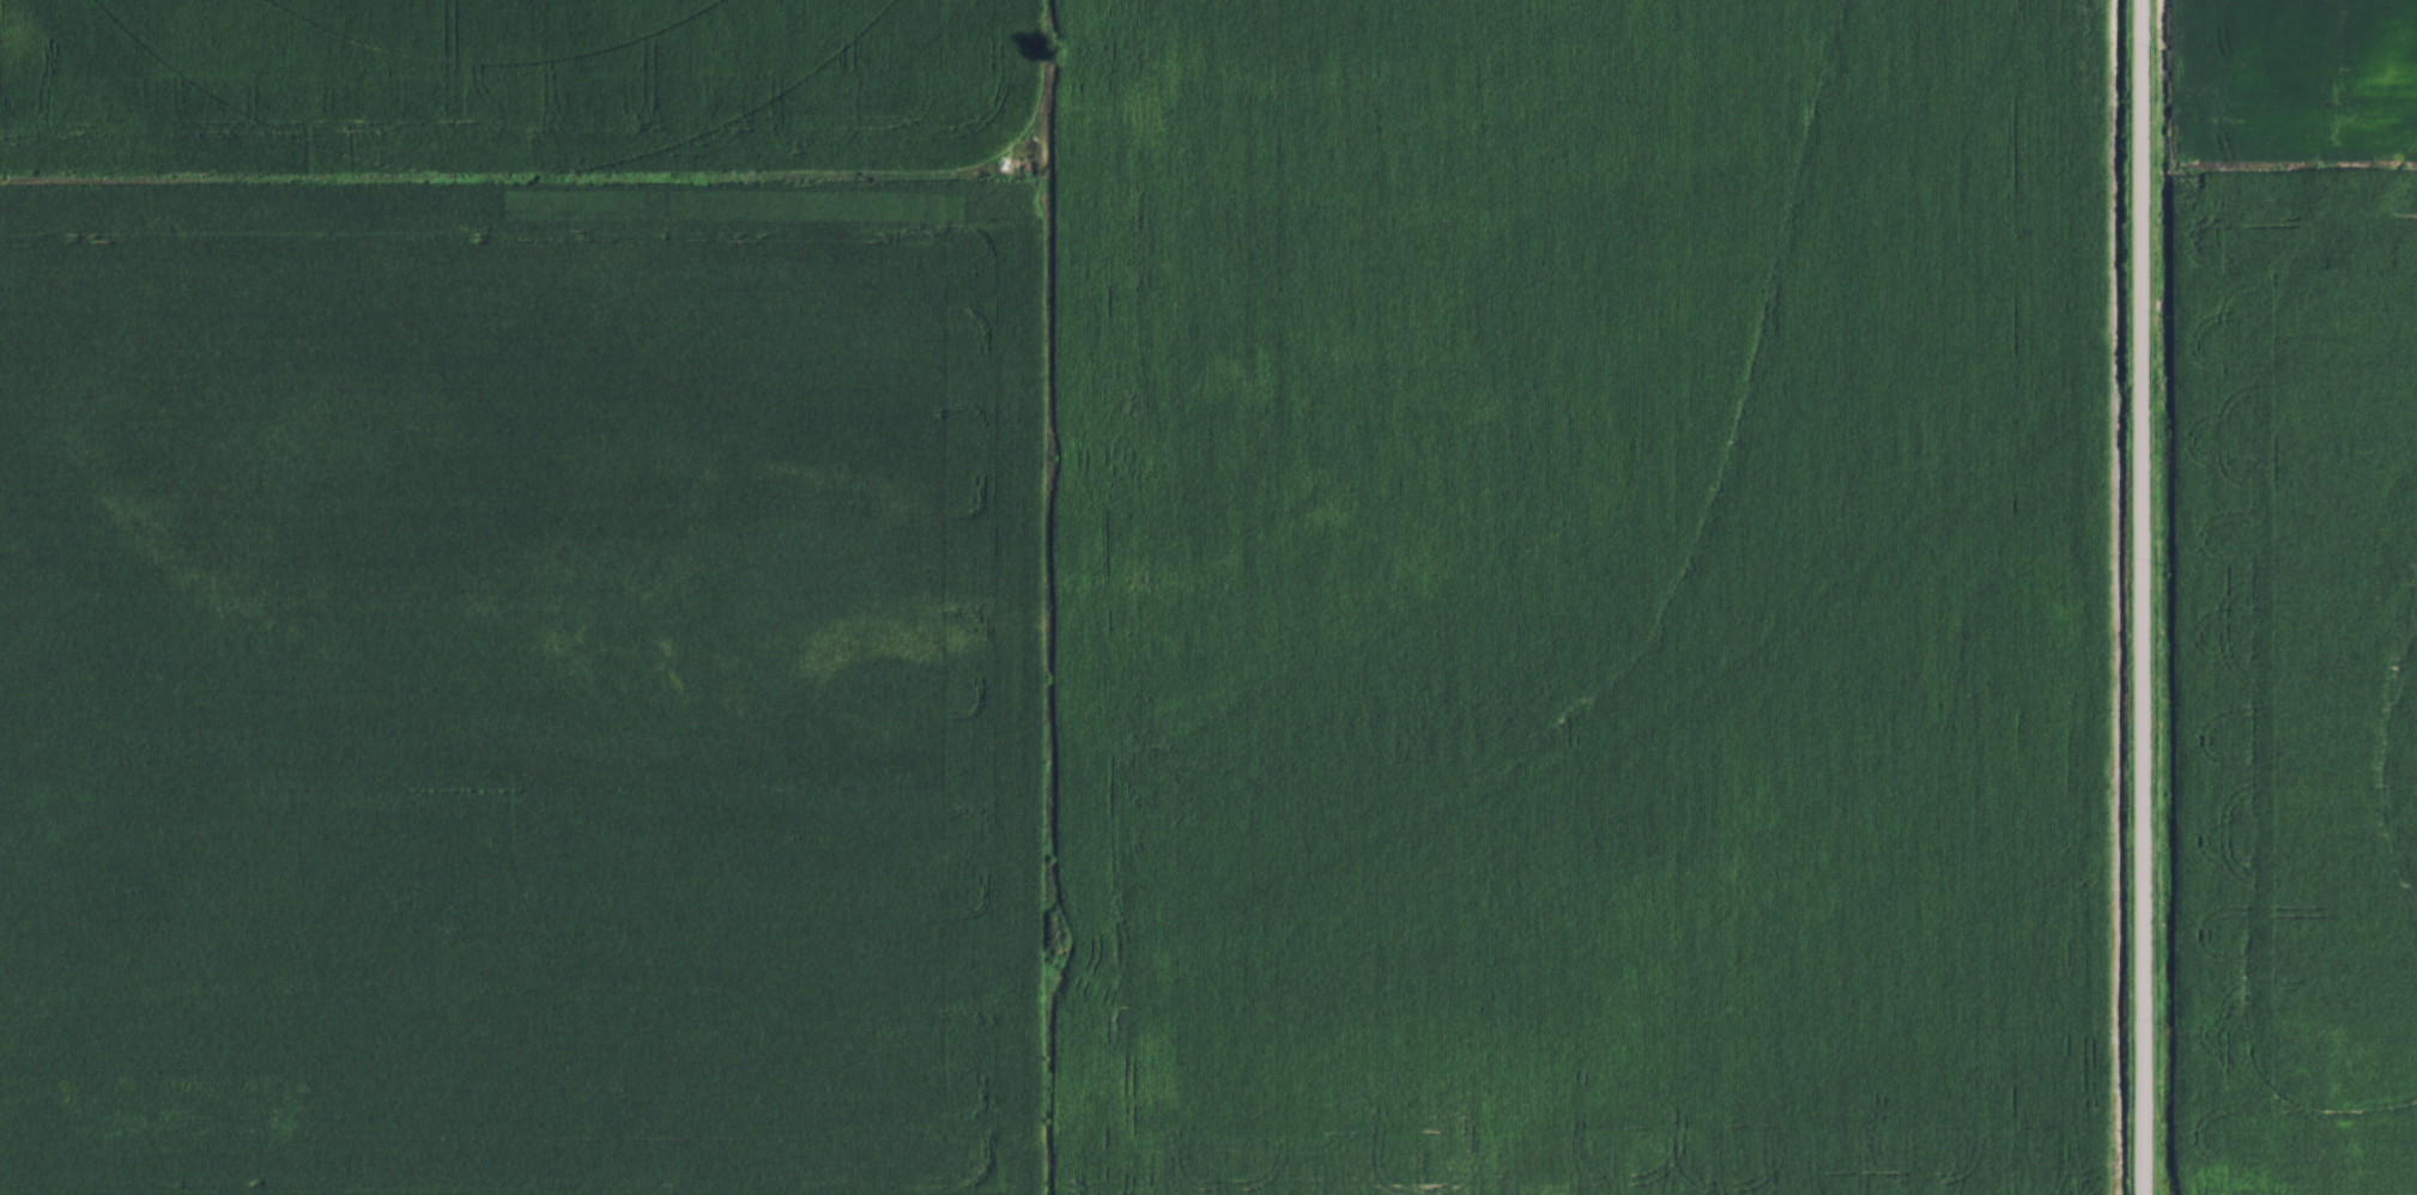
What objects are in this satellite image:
road: (2140, 597)

